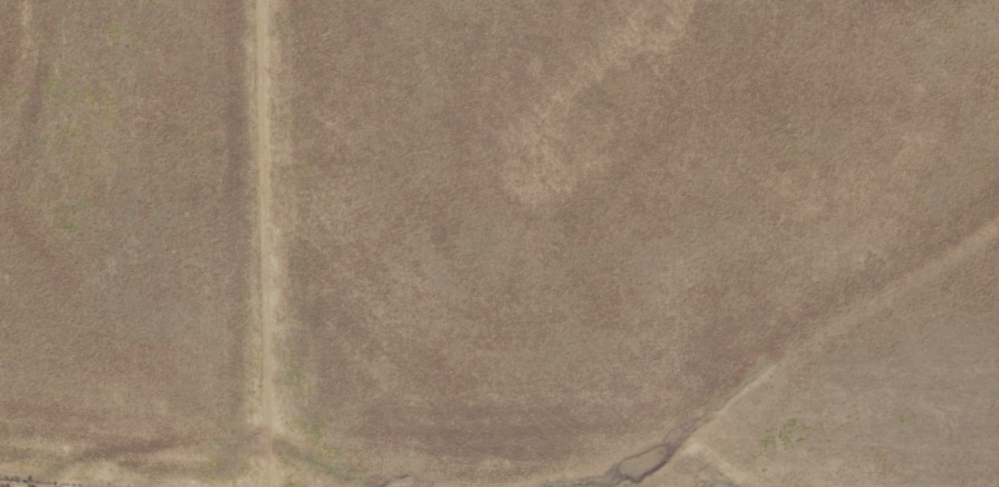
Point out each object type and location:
road: (239, 243)

